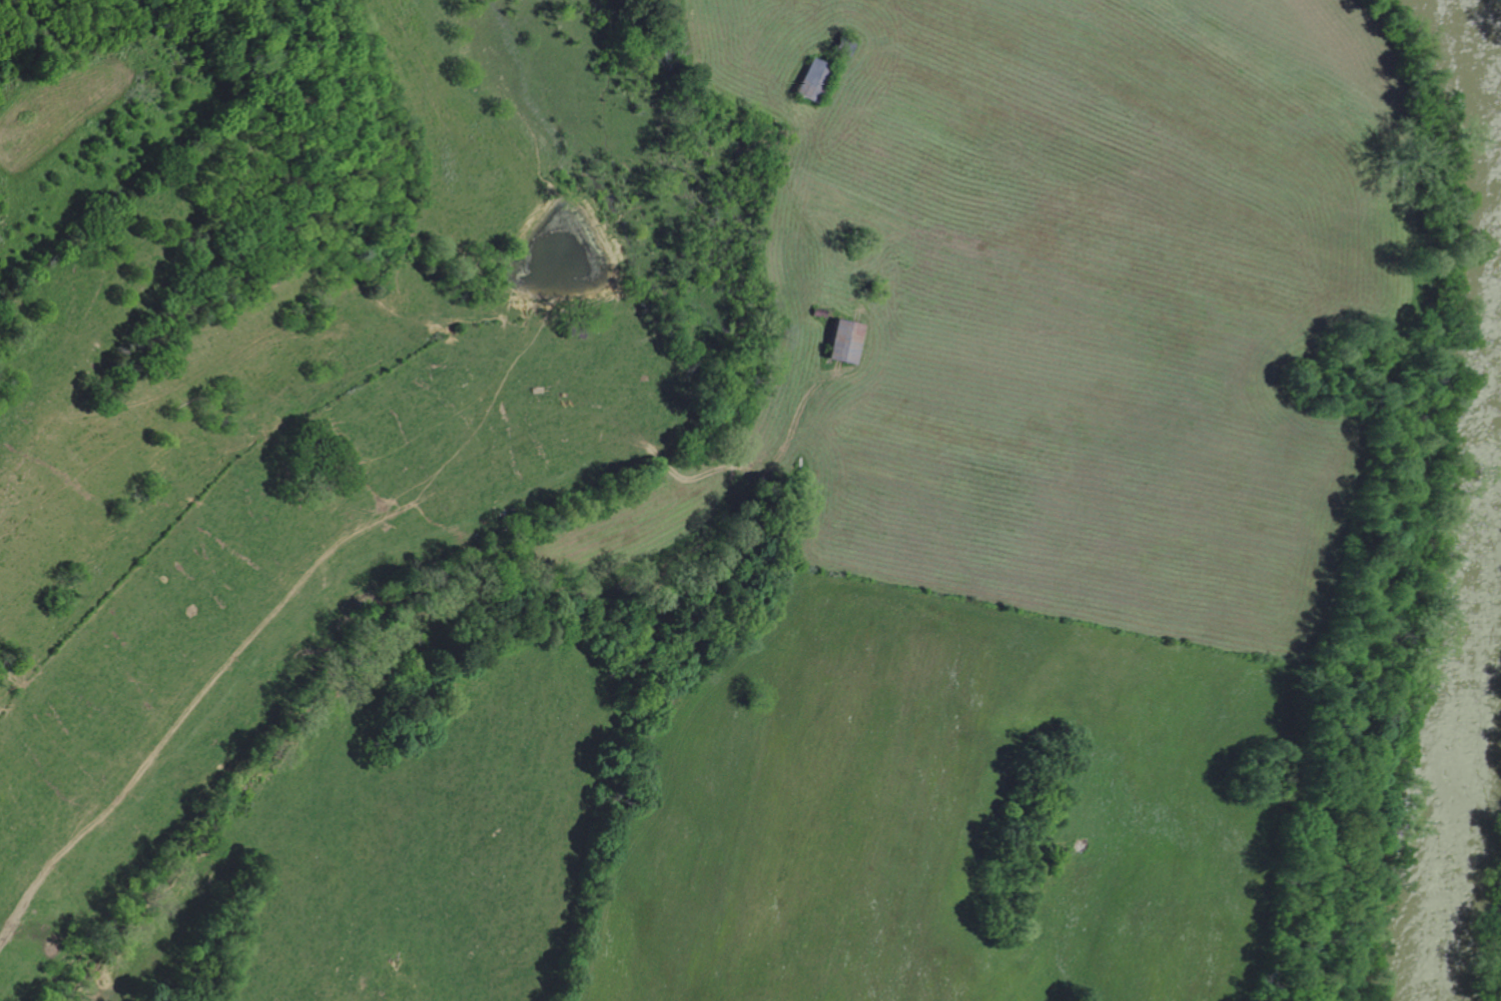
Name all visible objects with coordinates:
river: (1485, 100)
building: (842, 342)
river: (1468, 709)

